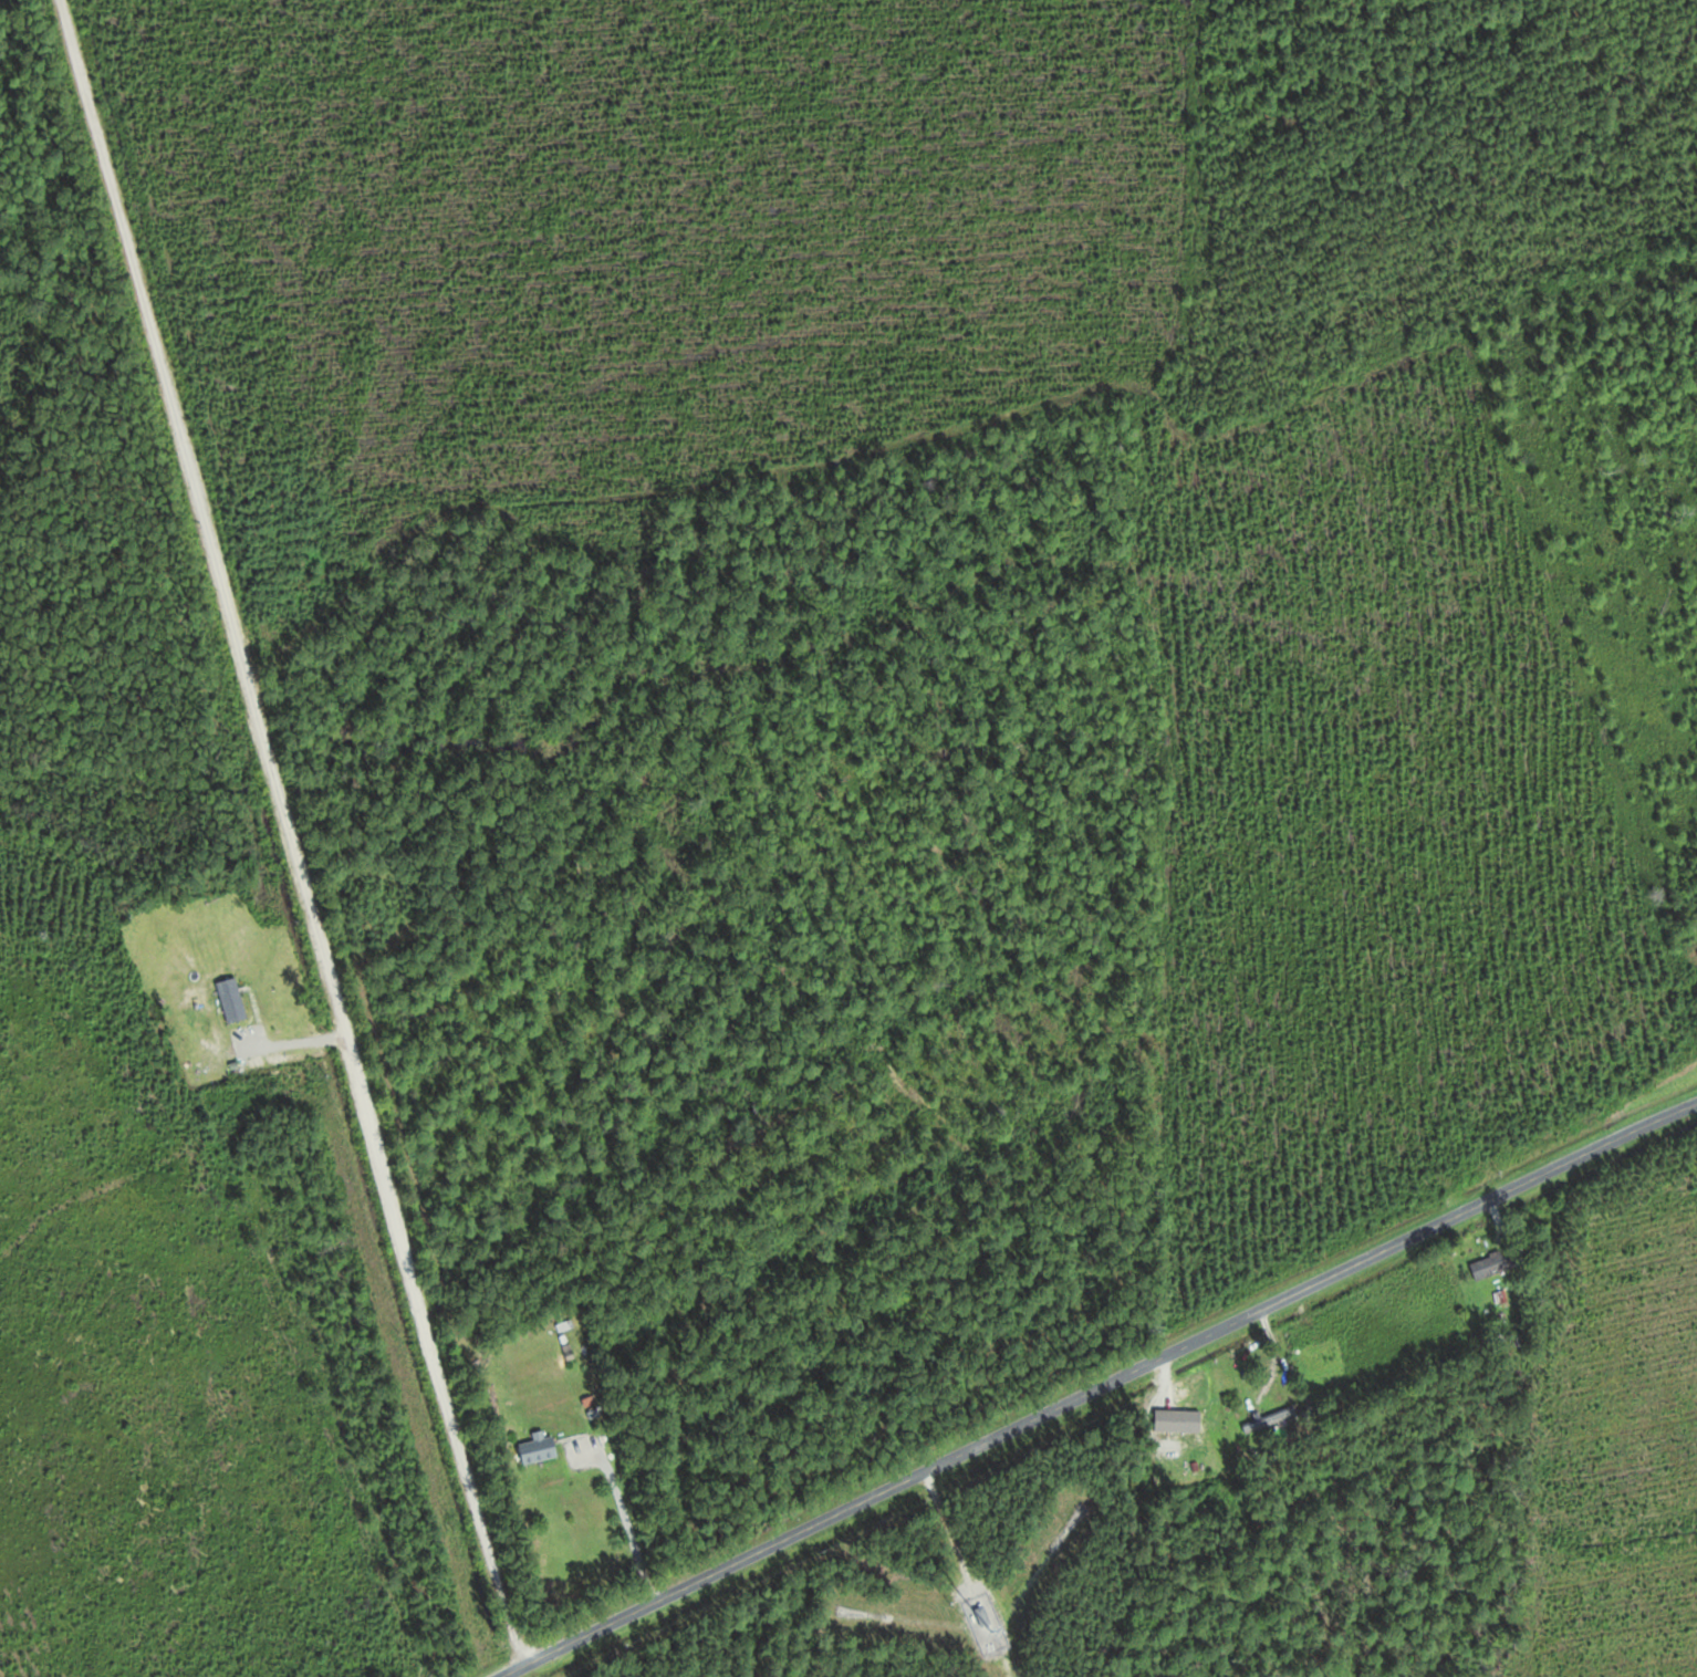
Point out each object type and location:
road: (288, 833)
building: (1493, 1264)
road: (1091, 1385)
building: (1271, 1419)
road: (1595, 1424)
building: (1186, 1426)
building: (541, 1449)
building: (985, 1616)

